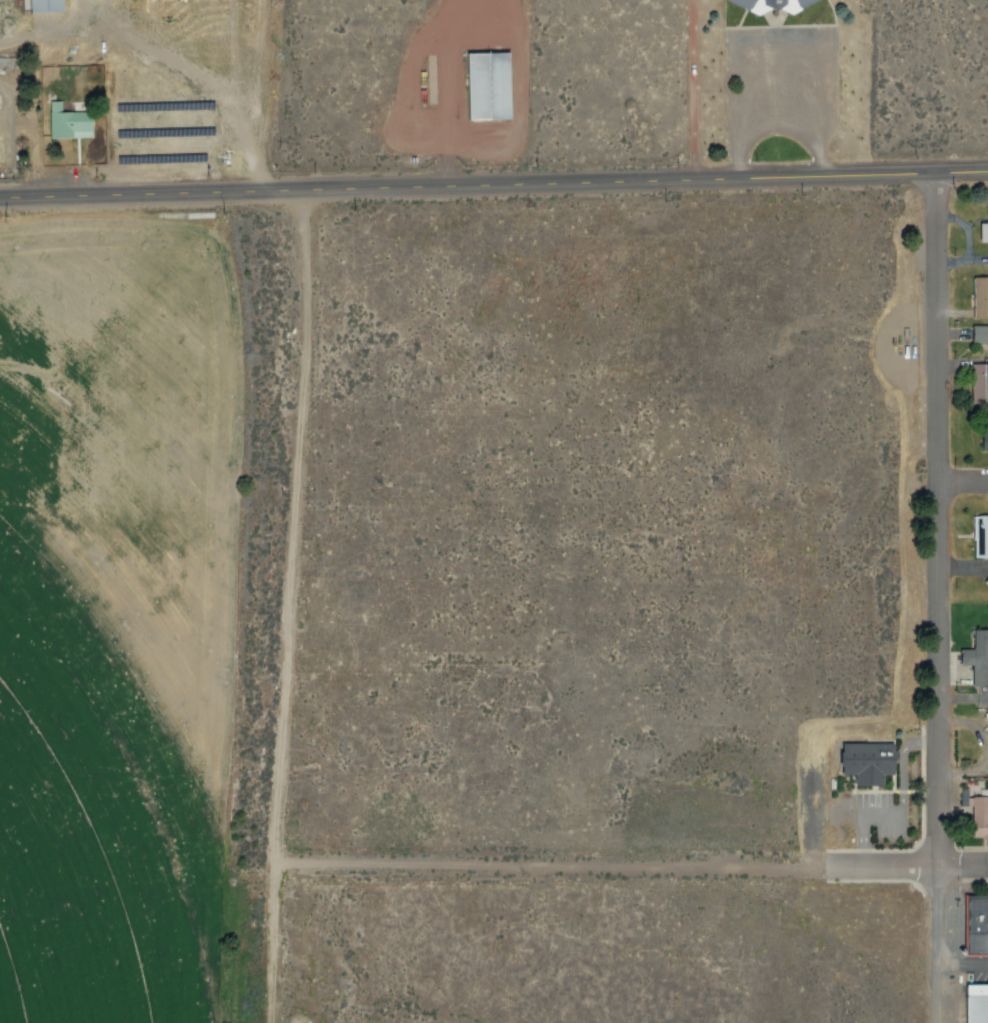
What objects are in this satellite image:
building: (768, 4)
building: (44, 5)
building: (6, 64)
building: (486, 85)
road: (697, 92)
building: (69, 122)
road: (585, 186)
road: (91, 196)
building: (983, 228)
building: (979, 295)
building: (979, 334)
building: (979, 381)
building: (983, 438)
road: (962, 482)
road: (935, 521)
building: (980, 534)
building: (986, 581)
building: (976, 655)
building: (866, 760)
road: (961, 771)
building: (979, 814)
road: (962, 867)
building: (976, 926)
road: (938, 945)
building: (976, 1003)

